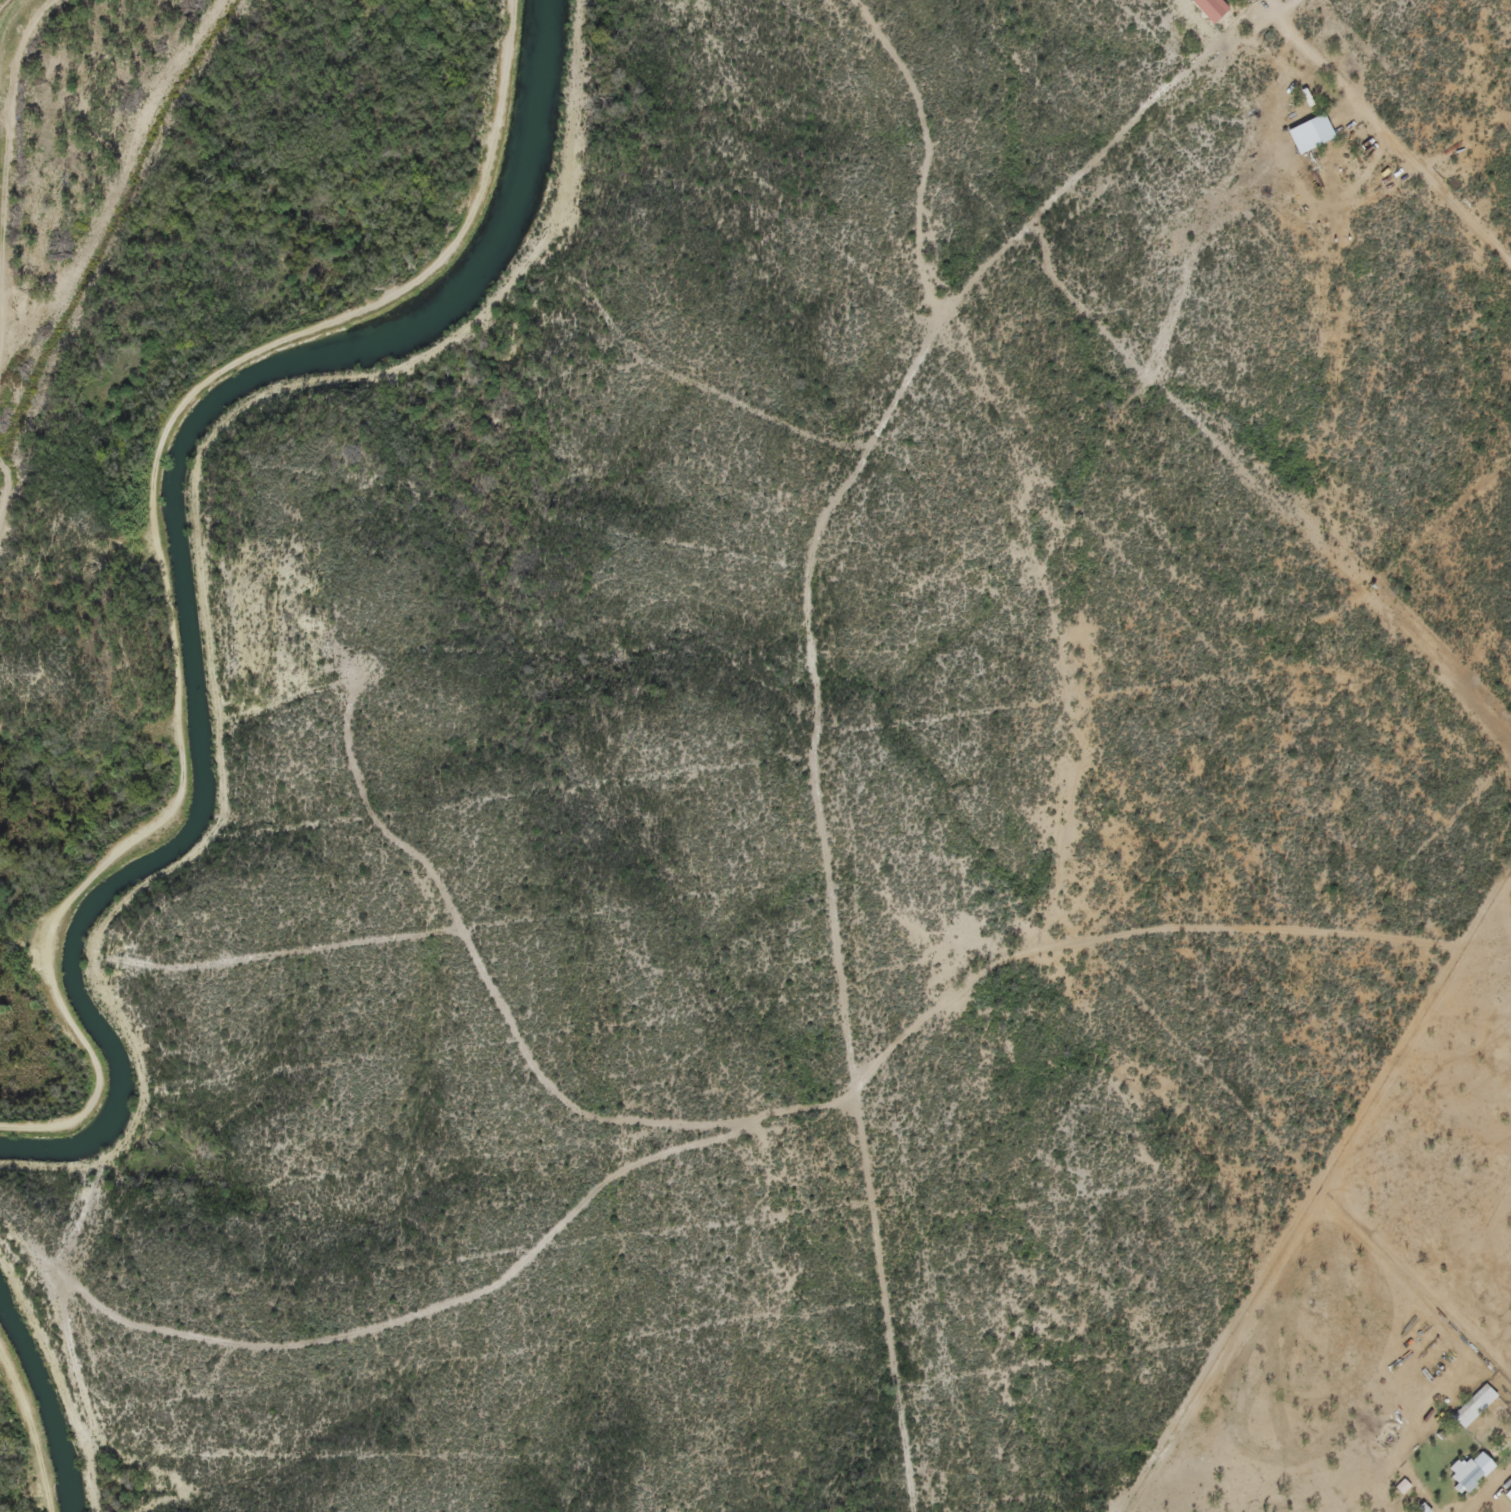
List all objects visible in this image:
building: (1204, 9)
building: (1305, 135)
road: (1025, 460)
road: (1294, 465)
road: (488, 969)
road: (788, 1125)
road: (935, 1263)
building: (1463, 1479)
road: (1482, 1486)
building: (1490, 1510)

